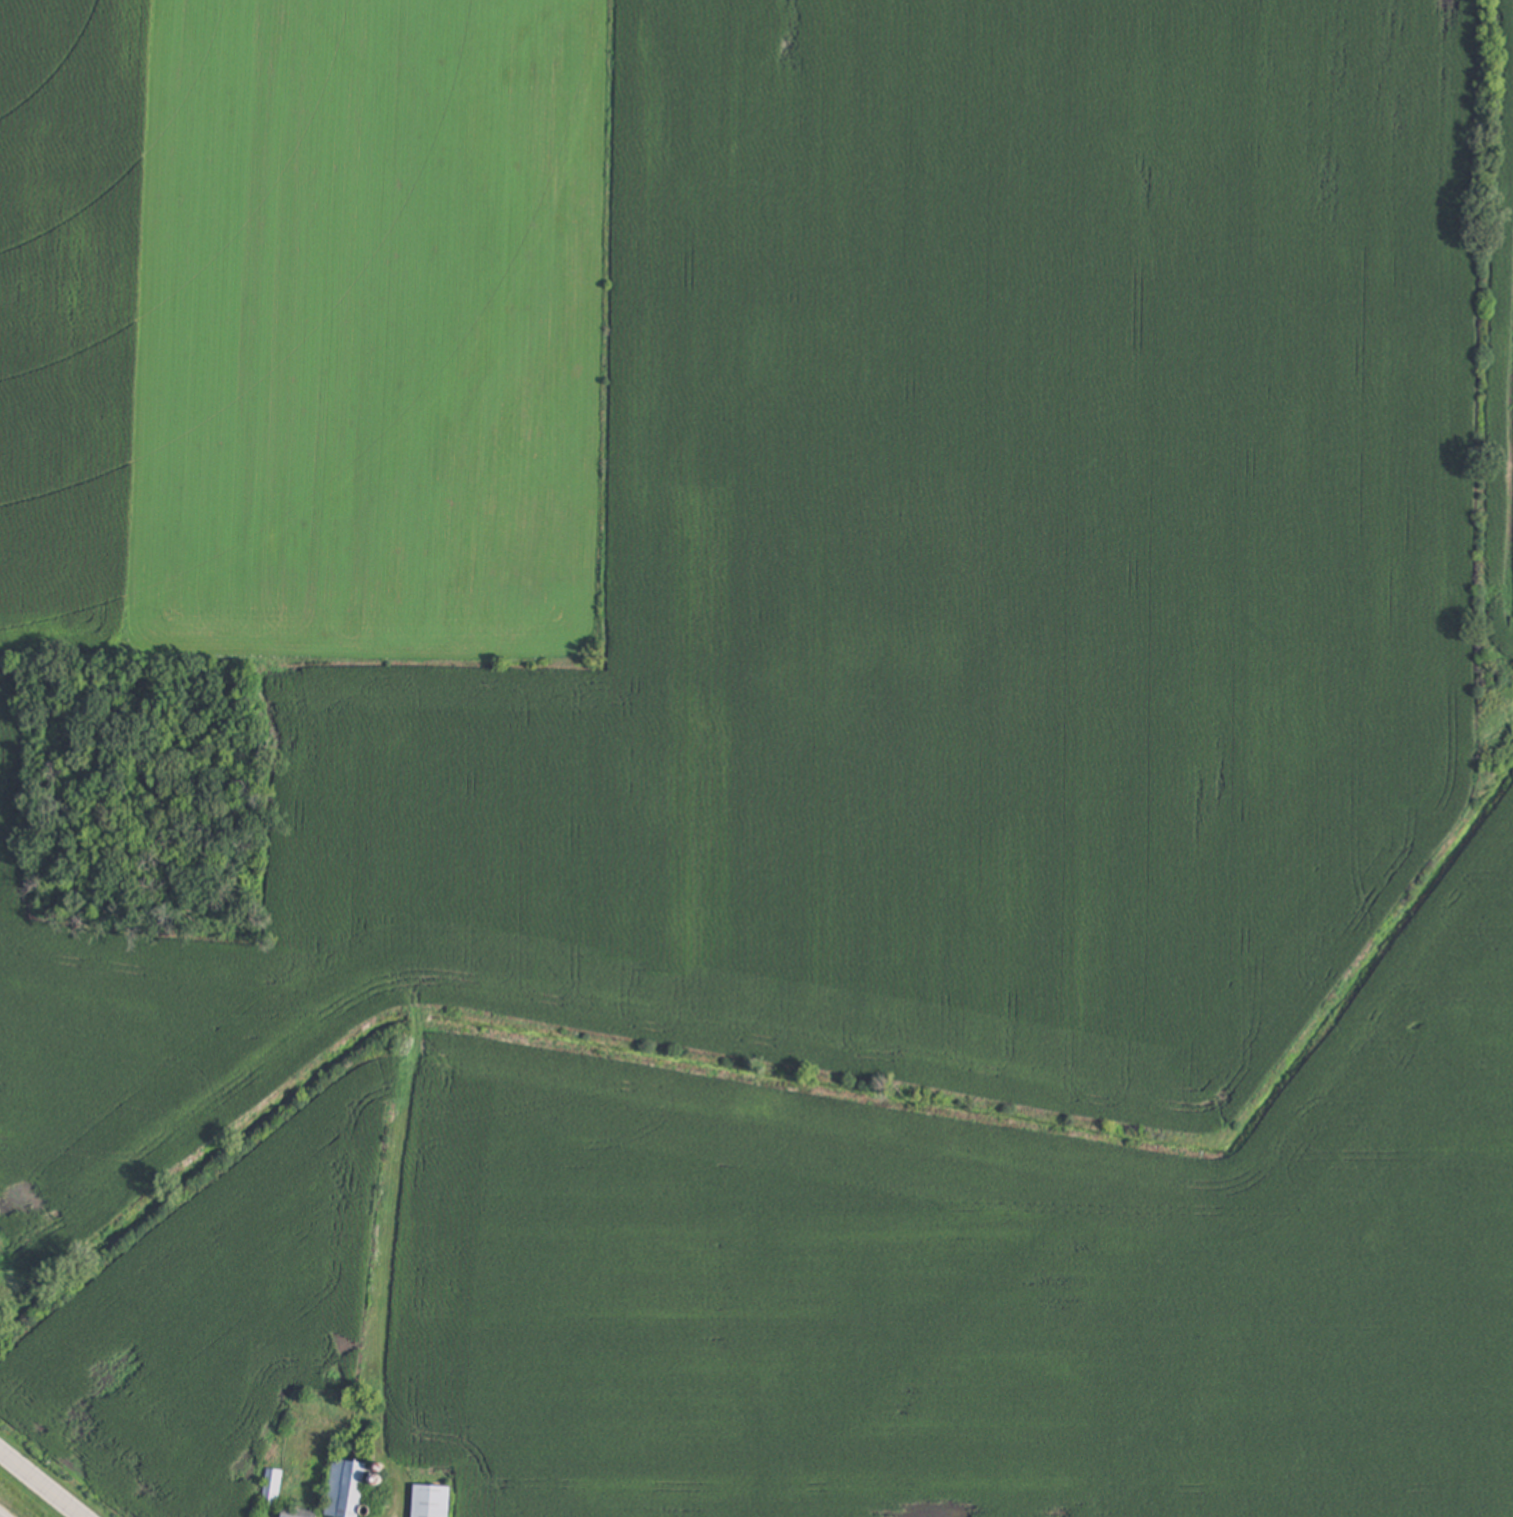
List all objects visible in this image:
road: (41, 1484)
building: (273, 1488)
building: (348, 1489)
building: (432, 1502)
building: (298, 1513)

